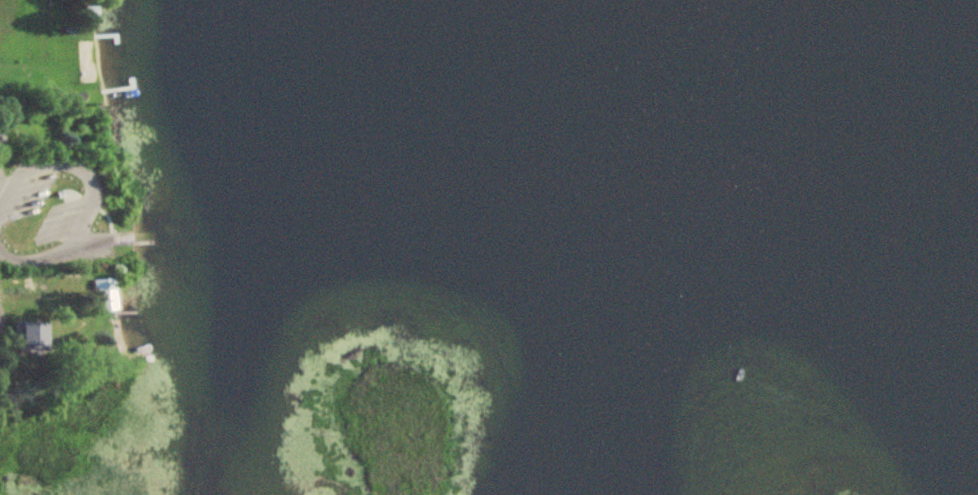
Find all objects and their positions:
building: (89, 14)
road: (91, 192)
building: (104, 296)
building: (26, 337)

